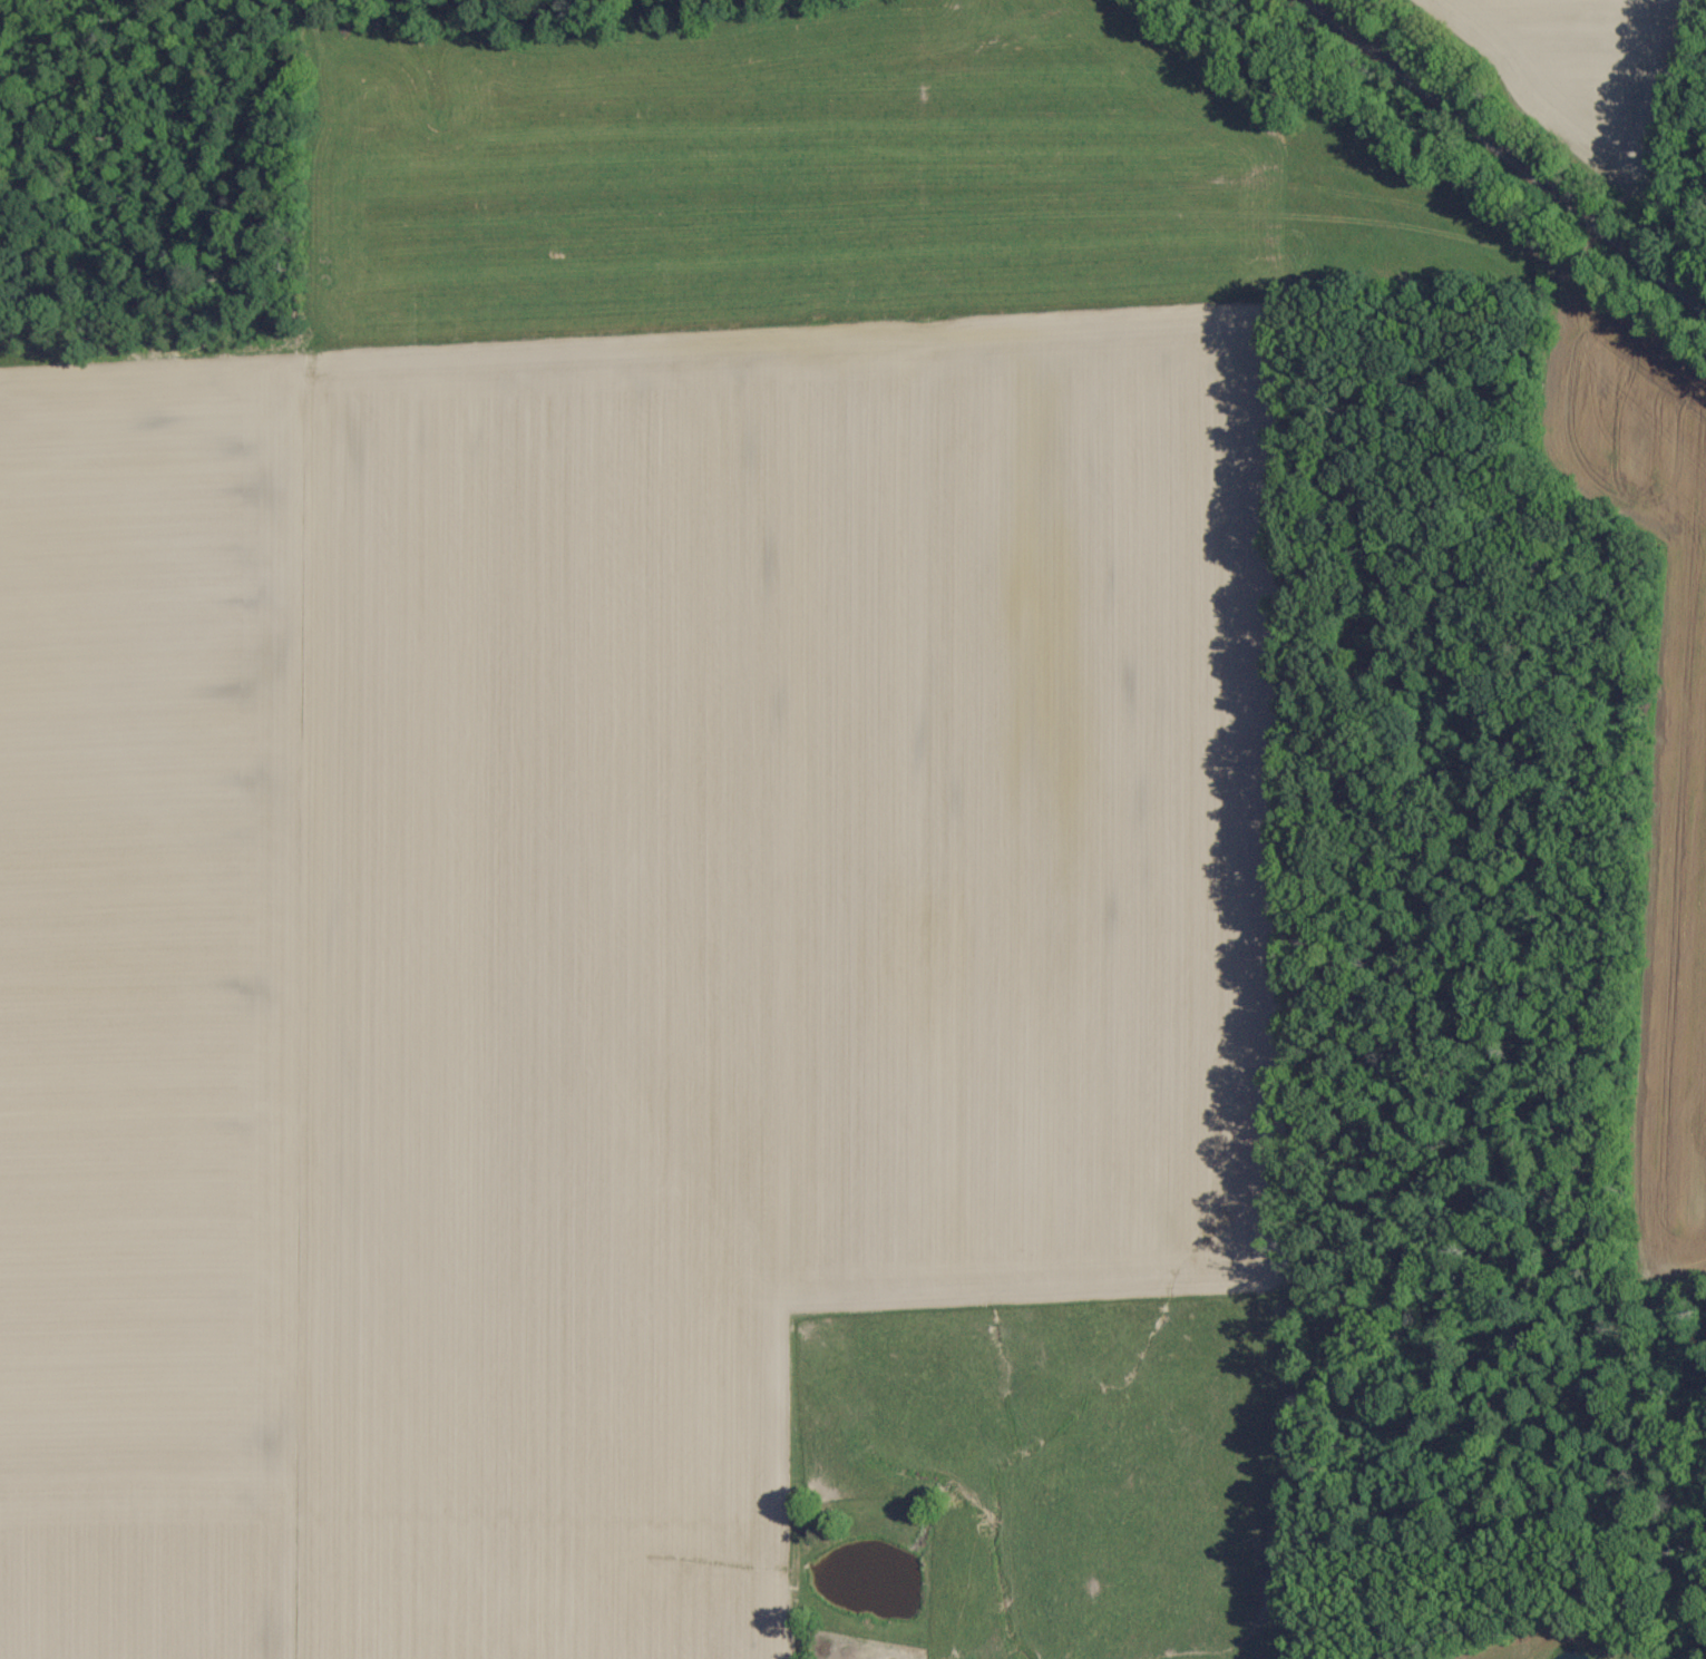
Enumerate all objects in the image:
railway: (1485, 173)

